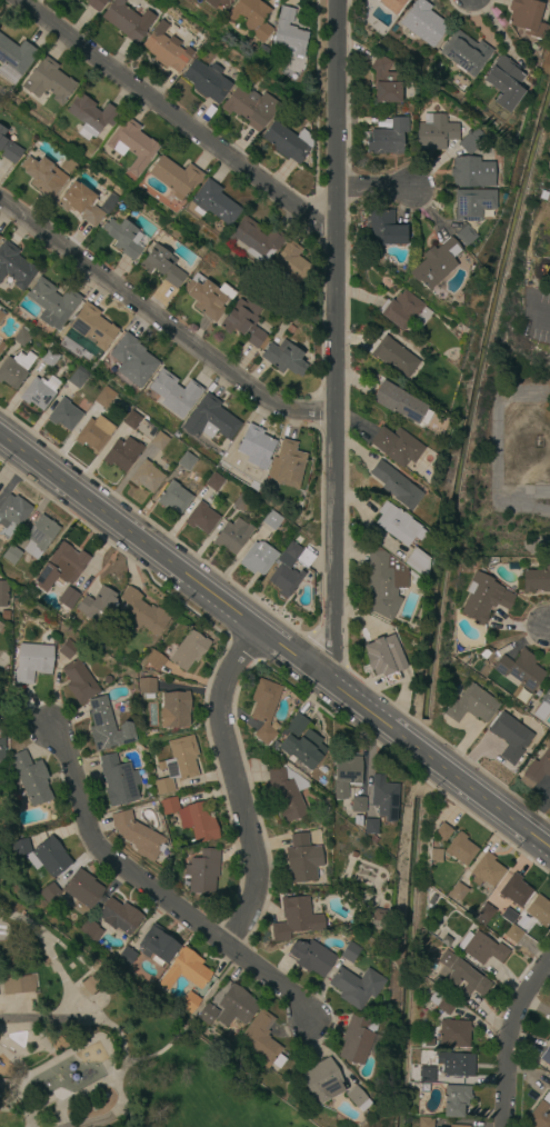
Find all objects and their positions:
building: (217, 3)
building: (96, 4)
building: (392, 4)
building: (250, 17)
building: (527, 17)
building: (127, 20)
building: (422, 22)
building: (288, 33)
building: (166, 48)
building: (464, 52)
building: (14, 58)
building: (48, 80)
building: (207, 81)
building: (384, 81)
building: (504, 82)
building: (250, 107)
building: (90, 116)
road: (180, 117)
building: (434, 131)
building: (388, 137)
building: (288, 141)
building: (470, 143)
building: (131, 147)
building: (8, 148)
building: (68, 164)
building: (471, 172)
building: (43, 177)
building: (174, 177)
road: (381, 191)
building: (107, 201)
building: (214, 202)
building: (79, 203)
building: (472, 203)
building: (383, 228)
building: (464, 235)
building: (123, 238)
building: (257, 239)
building: (434, 263)
building: (162, 266)
building: (288, 266)
building: (14, 267)
building: (207, 297)
building: (51, 302)
building: (400, 309)
building: (1, 316)
parking lot: (536, 317)
building: (244, 322)
road: (163, 323)
building: (92, 326)
building: (290, 330)
building: (21, 338)
road: (340, 341)
building: (1, 346)
building: (393, 356)
building: (49, 357)
building: (284, 357)
building: (132, 360)
building: (14, 369)
building: (78, 377)
building: (38, 392)
building: (173, 392)
building: (104, 399)
building: (400, 403)
building: (63, 415)
building: (131, 419)
building: (210, 421)
road: (499, 423)
building: (96, 431)
building: (159, 440)
building: (396, 446)
building: (256, 447)
building: (122, 452)
building: (186, 461)
building: (286, 463)
building: (146, 477)
building: (213, 481)
building: (394, 485)
building: (174, 497)
road: (523, 498)
road: (502, 501)
building: (241, 502)
road: (529, 508)
building: (12, 515)
building: (201, 518)
building: (270, 519)
building: (398, 525)
building: (39, 536)
building: (232, 536)
road: (537, 541)
building: (11, 555)
building: (294, 556)
building: (258, 558)
building: (418, 562)
building: (61, 567)
building: (284, 579)
building: (537, 579)
building: (384, 582)
building: (3, 592)
building: (68, 598)
building: (483, 598)
building: (99, 606)
building: (143, 612)
building: (4, 615)
building: (1, 626)
road: (549, 631)
road: (273, 640)
building: (67, 649)
building: (188, 650)
building: (384, 658)
building: (154, 660)
building: (32, 662)
building: (520, 670)
building: (549, 676)
building: (79, 682)
building: (147, 686)
building: (472, 705)
building: (542, 706)
building: (264, 708)
building: (176, 709)
building: (107, 726)
building: (296, 726)
building: (510, 737)
building: (302, 749)
building: (1, 755)
building: (177, 764)
building: (537, 767)
building: (346, 776)
building: (31, 778)
building: (118, 781)
road: (240, 789)
building: (288, 792)
building: (382, 797)
building: (357, 805)
building: (192, 819)
building: (359, 822)
building: (370, 827)
building: (442, 832)
building: (137, 835)
building: (460, 849)
building: (436, 855)
building: (42, 856)
building: (302, 858)
building: (202, 871)
building: (486, 871)
building: (83, 889)
building: (514, 890)
building: (458, 891)
building: (49, 894)
road: (154, 895)
building: (539, 911)
building: (484, 912)
building: (378, 915)
building: (118, 916)
building: (296, 919)
building: (89, 929)
building: (512, 932)
building: (158, 945)
road: (48, 948)
building: (481, 949)
building: (350, 951)
building: (126, 957)
building: (310, 957)
road: (76, 958)
building: (184, 970)
road: (79, 979)
building: (459, 979)
building: (91, 984)
building: (18, 985)
road: (216, 985)
building: (356, 987)
road: (91, 1003)
building: (188, 1003)
building: (442, 1003)
building: (234, 1006)
building: (206, 1014)
road: (41, 1019)
road: (31, 1034)
building: (454, 1034)
building: (357, 1039)
road: (510, 1039)
building: (261, 1041)
road: (83, 1044)
park: (106, 1048)
road: (166, 1048)
building: (546, 1056)
building: (426, 1058)
road: (12, 1061)
road: (83, 1064)
building: (459, 1064)
road: (121, 1068)
building: (427, 1075)
road: (17, 1078)
building: (322, 1081)
road: (17, 1093)
road: (78, 1094)
building: (357, 1098)
building: (547, 1098)
road: (57, 1099)
building: (456, 1099)
road: (32, 1108)
road: (121, 1116)
building: (539, 1116)
building: (424, 1121)
building: (458, 1126)

